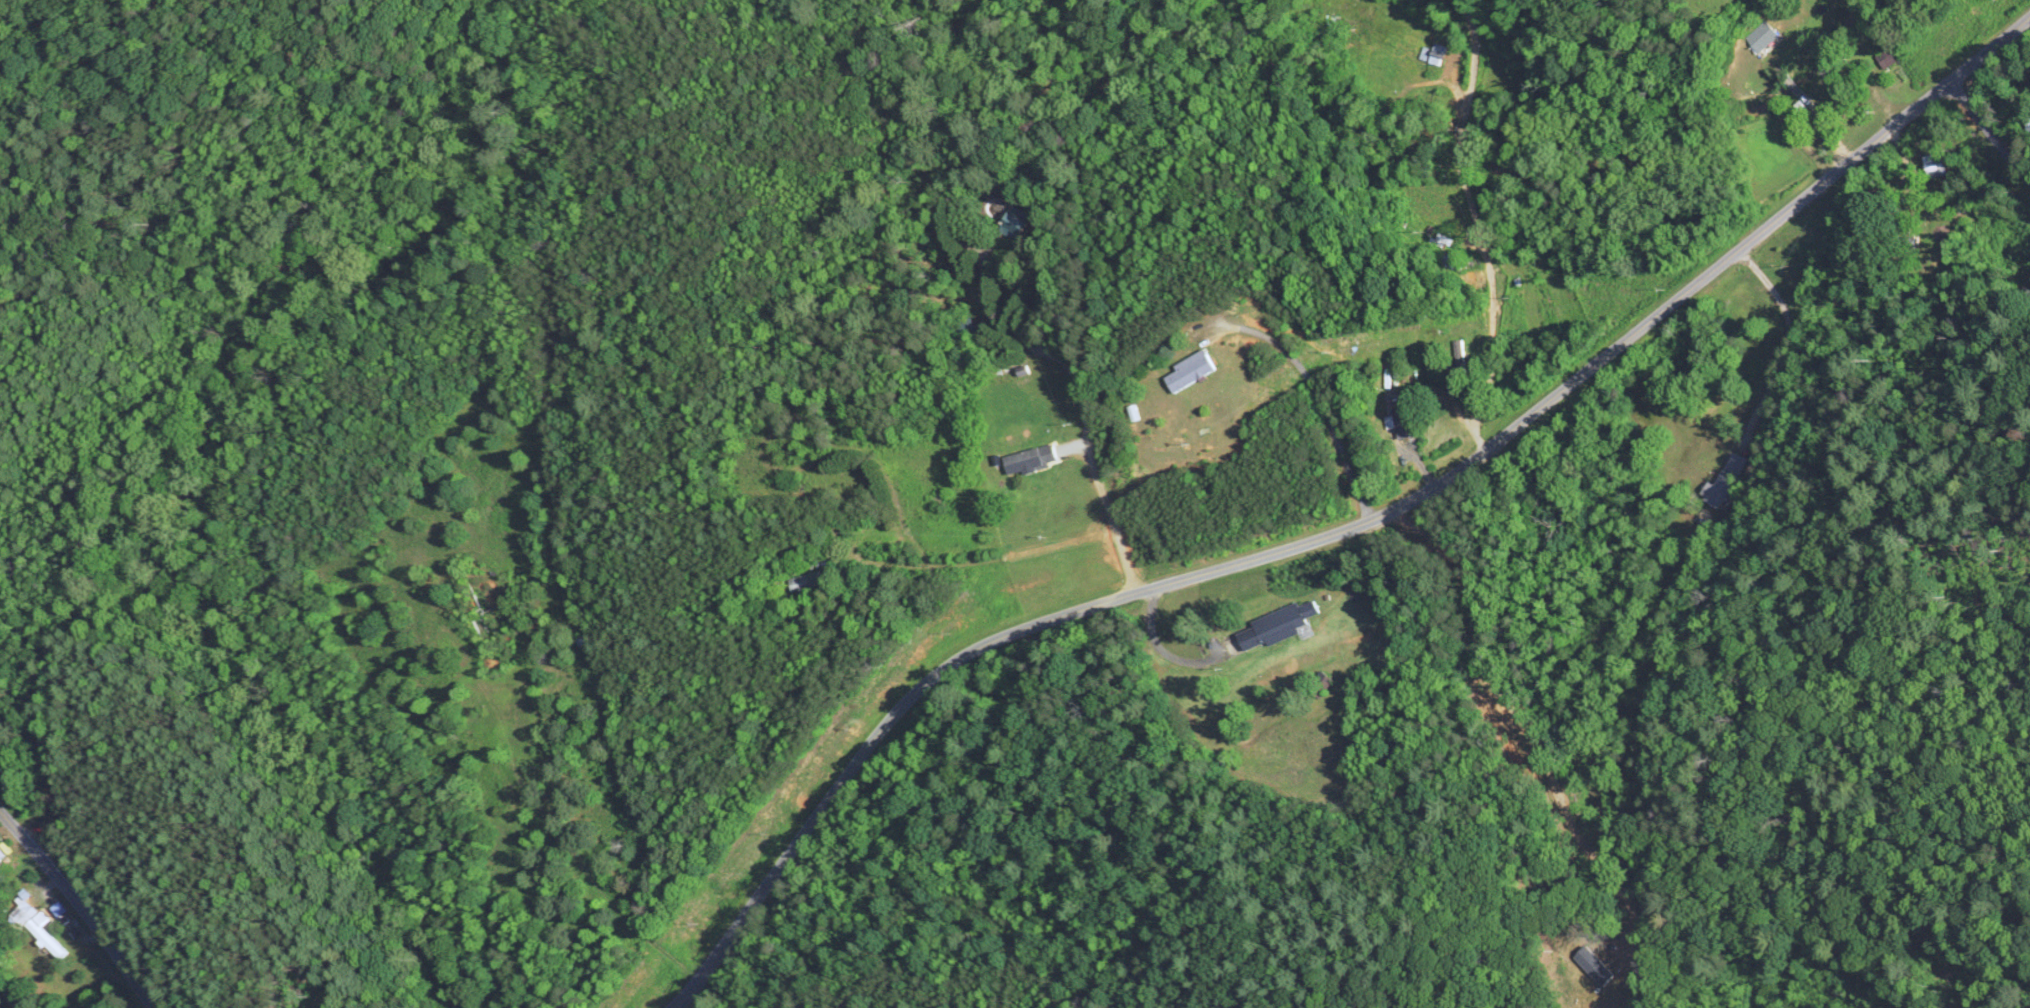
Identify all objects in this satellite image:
building: (1754, 37)
building: (1439, 55)
building: (1882, 61)
road: (1764, 122)
road: (1989, 132)
river: (1363, 137)
building: (1931, 168)
building: (1020, 225)
road: (1477, 226)
building: (1440, 240)
building: (970, 329)
road: (1788, 338)
building: (1193, 373)
road: (1323, 406)
road: (1083, 414)
building: (1402, 421)
building: (1035, 461)
river: (223, 466)
building: (1716, 480)
building: (789, 484)
road: (1343, 532)
building: (811, 585)
building: (1276, 628)
road: (1161, 650)
building: (1, 856)
road: (79, 907)
building: (25, 915)
river: (0, 1007)

